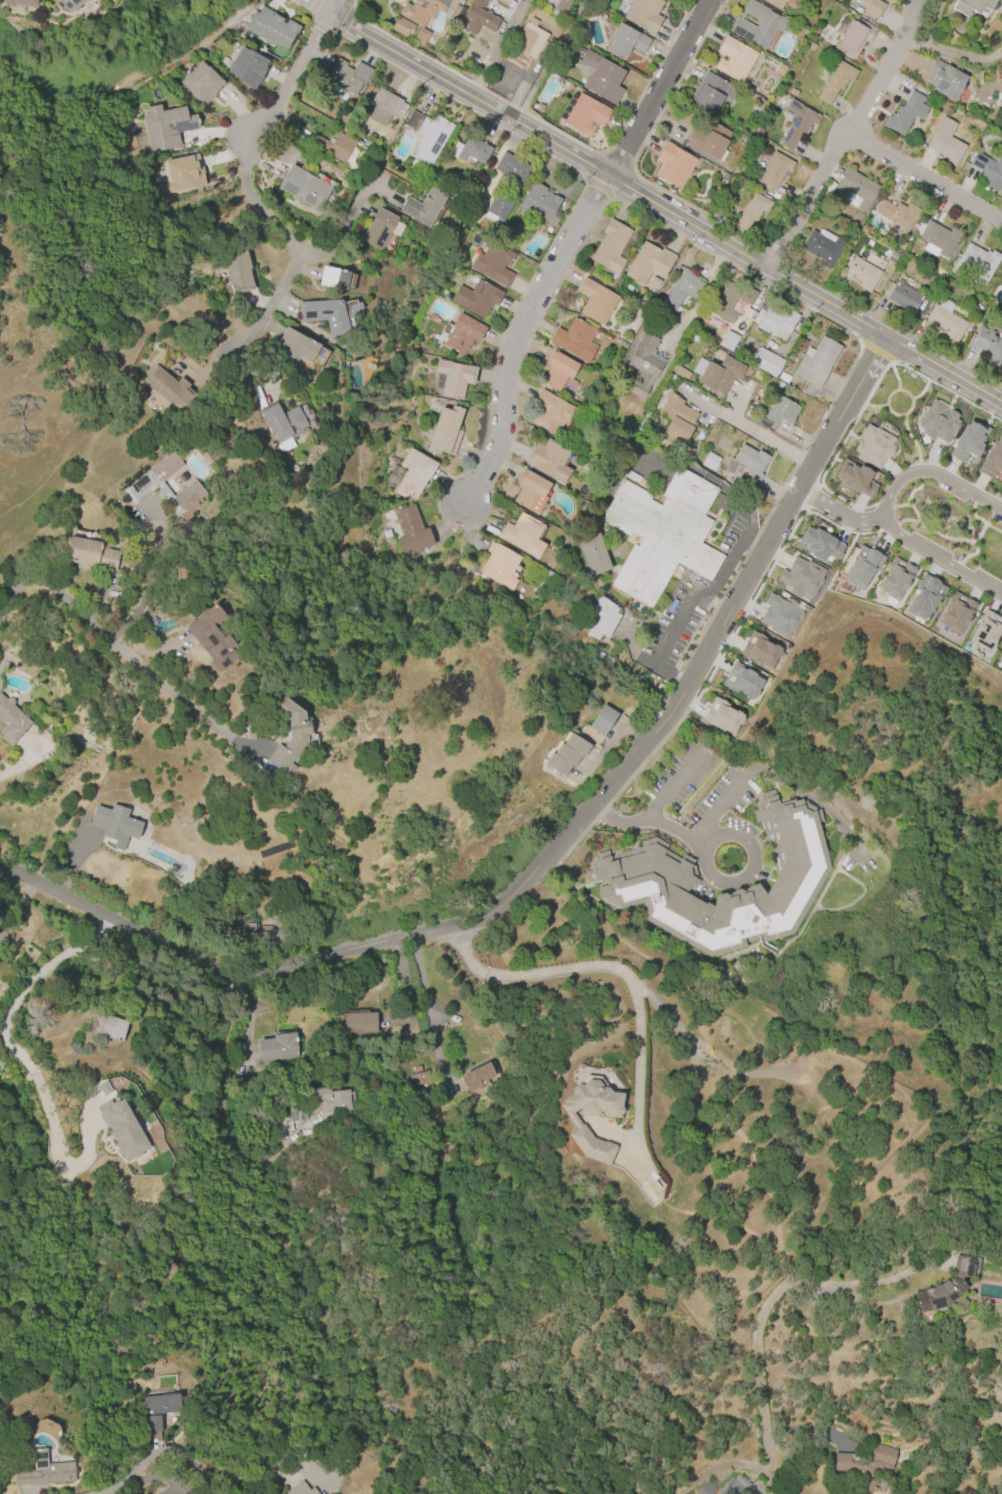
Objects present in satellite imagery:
building: (406, 0)
building: (18, 2)
building: (549, 2)
building: (506, 3)
building: (775, 3)
building: (70, 4)
road: (316, 6)
road: (331, 6)
building: (870, 6)
building: (969, 6)
building: (559, 8)
building: (421, 10)
building: (454, 11)
building: (643, 14)
building: (478, 17)
road: (929, 22)
building: (757, 25)
building: (401, 26)
building: (271, 27)
building: (420, 36)
building: (853, 37)
building: (529, 39)
building: (625, 42)
road: (913, 44)
road: (963, 57)
building: (734, 58)
road: (547, 60)
road: (891, 66)
building: (246, 67)
building: (780, 70)
building: (347, 76)
building: (601, 77)
building: (944, 80)
building: (835, 81)
building: (200, 83)
road: (660, 87)
building: (707, 94)
building: (385, 107)
building: (905, 114)
building: (585, 115)
building: (796, 124)
building: (166, 127)
building: (427, 134)
building: (709, 141)
building: (334, 146)
building: (945, 146)
building: (473, 150)
building: (673, 165)
building: (511, 167)
building: (989, 170)
building: (773, 171)
road: (926, 172)
building: (183, 173)
building: (304, 188)
building: (856, 189)
road: (810, 197)
building: (539, 201)
road: (258, 204)
building: (425, 205)
building: (499, 205)
road: (665, 207)
building: (751, 210)
building: (898, 214)
road: (345, 225)
building: (380, 229)
building: (938, 238)
building: (610, 246)
building: (821, 248)
building: (892, 256)
building: (976, 261)
building: (648, 263)
building: (492, 264)
building: (236, 269)
building: (863, 273)
building: (333, 278)
building: (1001, 281)
building: (684, 287)
building: (903, 297)
building: (475, 298)
building: (595, 301)
building: (730, 301)
building: (324, 314)
building: (776, 321)
building: (946, 322)
building: (462, 333)
road: (519, 335)
building: (574, 339)
building: (727, 341)
building: (987, 345)
building: (798, 346)
building: (293, 347)
building: (766, 362)
building: (816, 362)
building: (643, 365)
building: (557, 371)
building: (717, 373)
building: (454, 378)
building: (168, 388)
building: (781, 411)
building: (553, 414)
building: (282, 421)
building: (938, 421)
building: (676, 423)
building: (444, 431)
road: (766, 437)
building: (969, 440)
building: (873, 446)
building: (992, 459)
building: (549, 460)
building: (710, 461)
building: (747, 462)
building: (411, 475)
building: (631, 476)
building: (855, 478)
building: (163, 485)
building: (530, 492)
road: (836, 513)
road: (881, 513)
building: (410, 530)
building: (662, 533)
building: (522, 535)
road: (755, 539)
building: (819, 545)
building: (89, 554)
building: (592, 554)
building: (499, 565)
building: (862, 567)
building: (800, 577)
building: (895, 579)
road: (147, 583)
building: (925, 597)
road: (689, 607)
building: (956, 613)
building: (779, 615)
building: (601, 619)
building: (986, 631)
building: (211, 636)
building: (759, 650)
road: (114, 658)
building: (1000, 659)
building: (3, 666)
building: (742, 681)
building: (722, 717)
building: (11, 720)
building: (603, 720)
building: (289, 737)
building: (566, 754)
road: (14, 769)
road: (677, 785)
road: (719, 810)
building: (115, 824)
road: (622, 827)
road: (679, 834)
road: (555, 850)
road: (753, 864)
building: (641, 874)
road: (15, 907)
building: (268, 934)
road: (612, 966)
road: (424, 997)
building: (357, 1022)
building: (105, 1028)
building: (276, 1047)
road: (18, 1056)
building: (477, 1076)
building: (420, 1081)
building: (103, 1088)
building: (329, 1101)
building: (573, 1121)
building: (121, 1129)
building: (948, 1284)
road: (754, 1333)
building: (157, 1410)
building: (867, 1464)
building: (42, 1470)
road: (208, 1471)
road: (163, 1479)
building: (726, 1486)
road: (112, 1487)
building: (300, 1489)

